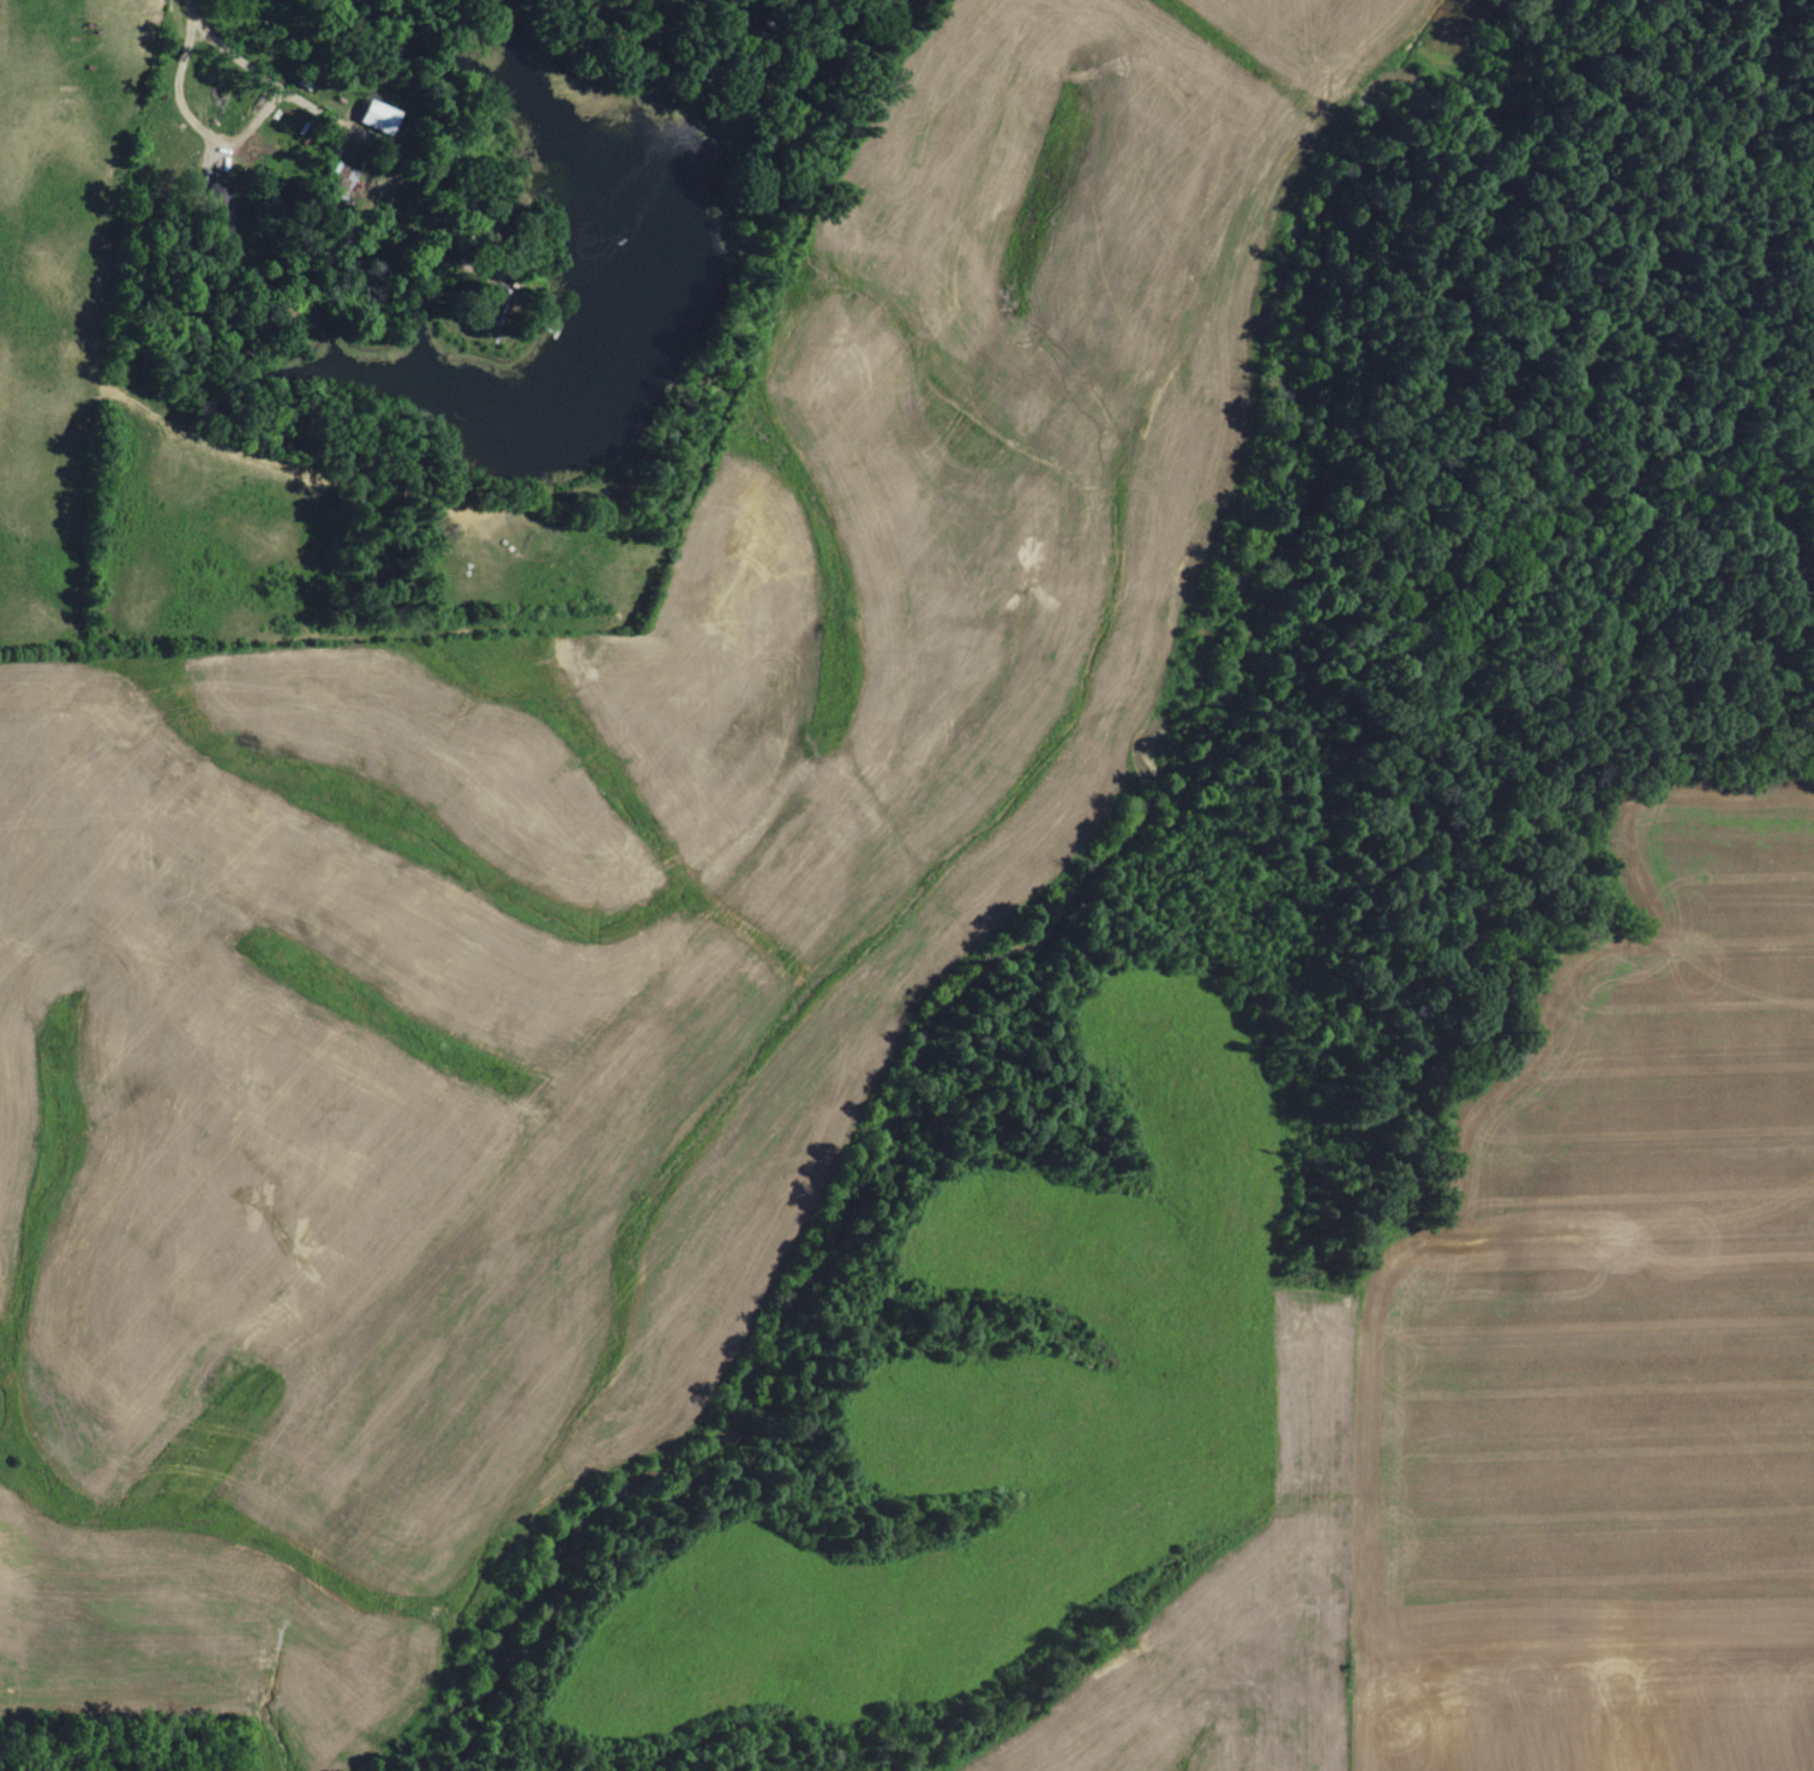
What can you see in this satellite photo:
road: (314, 106)
road: (192, 116)
building: (216, 209)
road: (479, 251)

